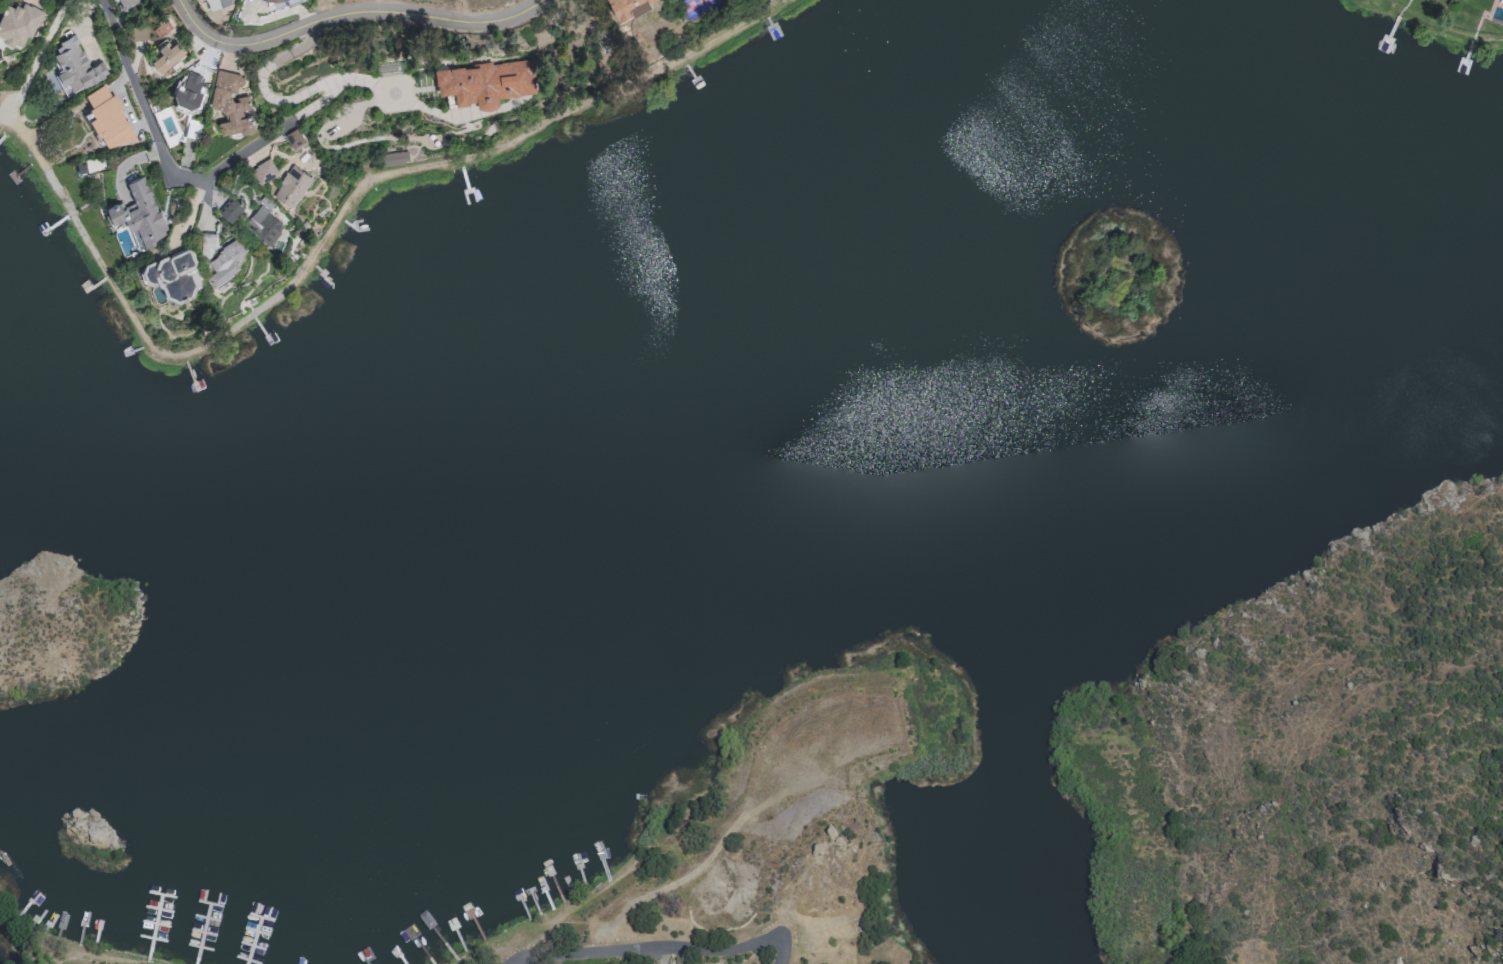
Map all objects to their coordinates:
building: (283, 0)
building: (297, 0)
building: (125, 3)
building: (215, 3)
building: (626, 6)
road: (359, 14)
building: (18, 22)
building: (138, 33)
building: (167, 58)
building: (76, 70)
road: (353, 80)
building: (486, 81)
building: (187, 92)
building: (231, 102)
building: (108, 116)
road: (146, 121)
road: (278, 128)
building: (294, 138)
building: (262, 166)
building: (291, 186)
building: (230, 208)
building: (139, 212)
building: (262, 227)
building: (207, 242)
building: (225, 261)
building: (171, 270)
road: (676, 948)
road: (789, 955)

